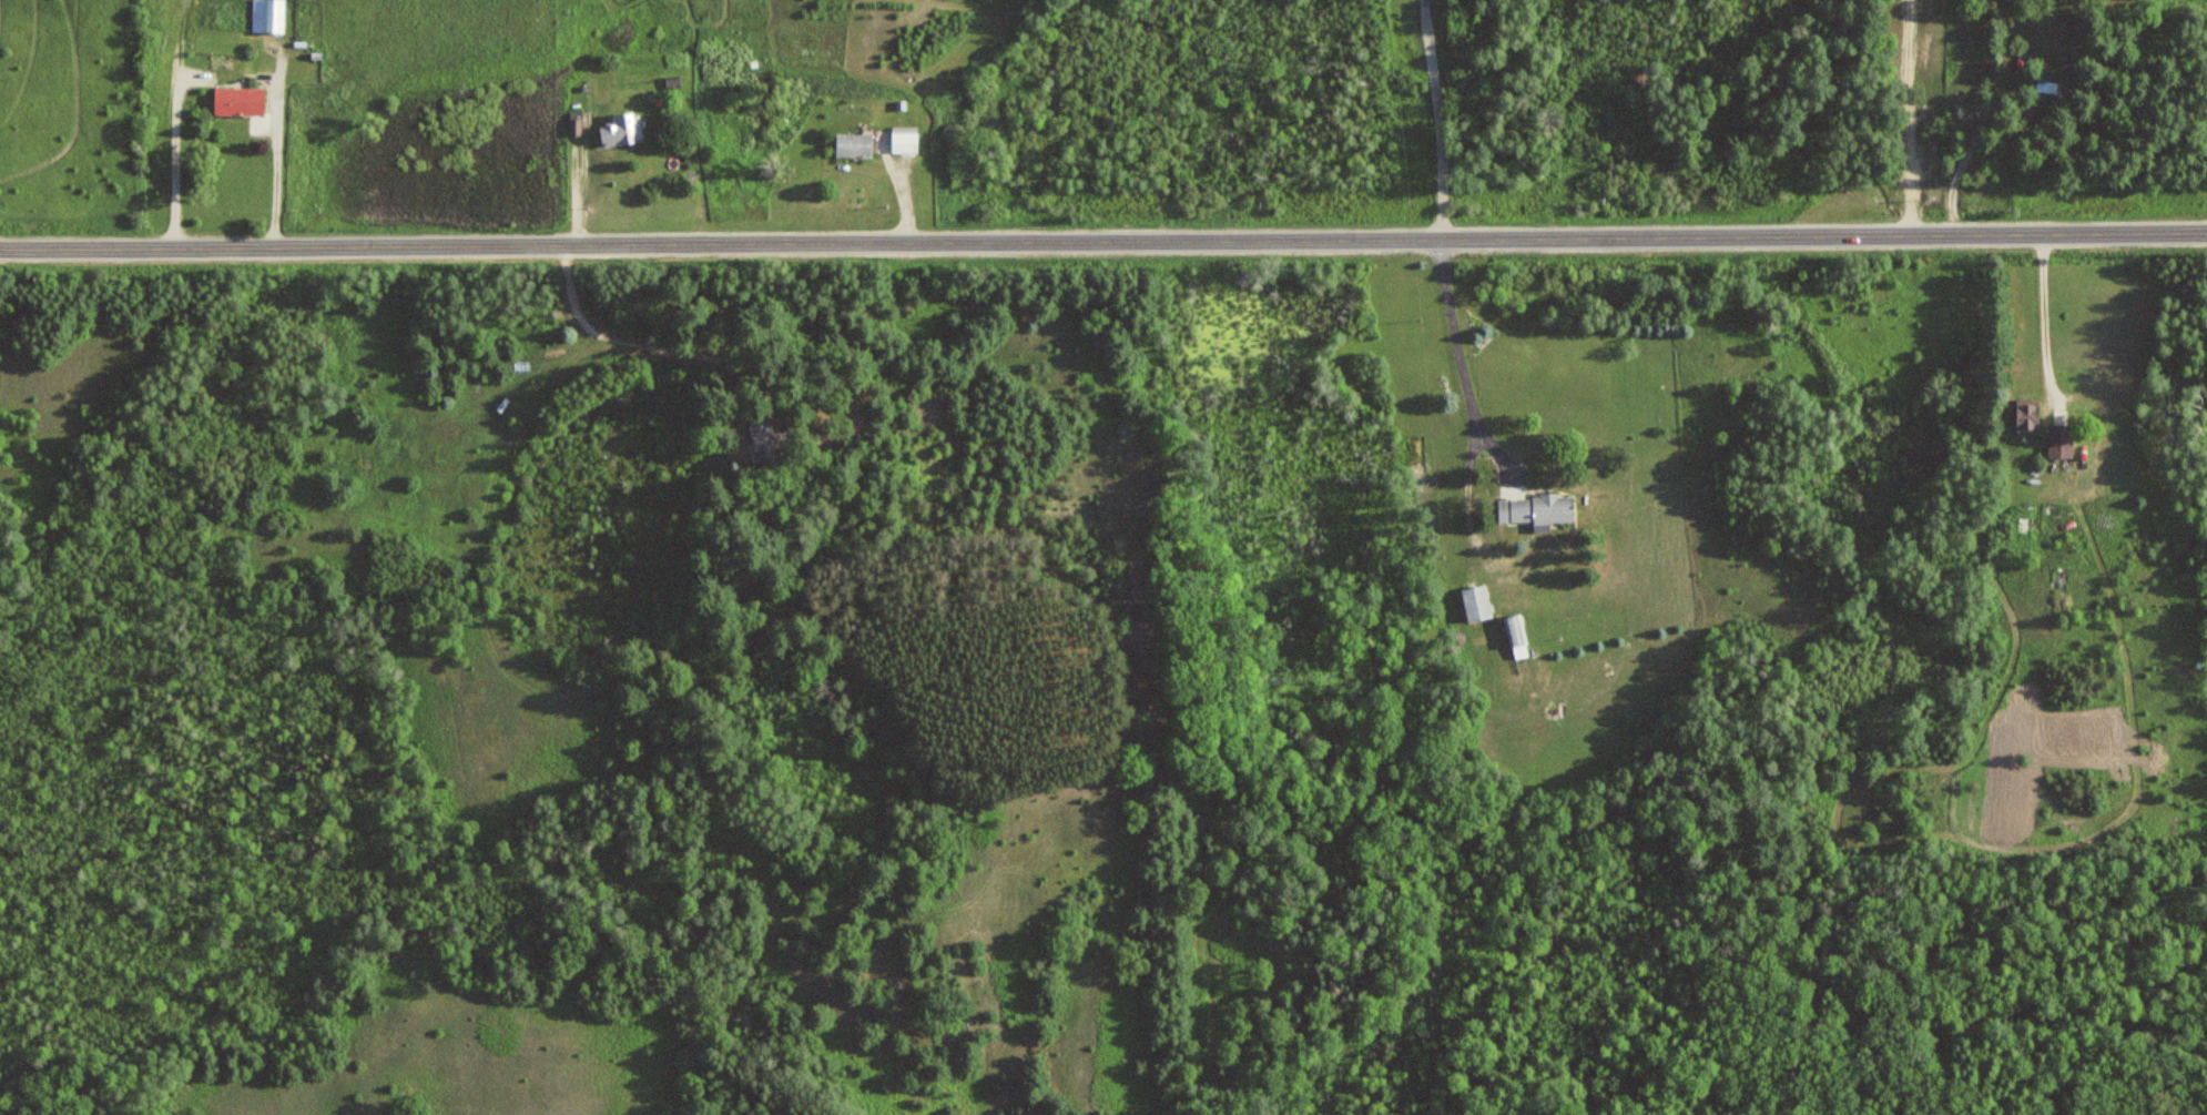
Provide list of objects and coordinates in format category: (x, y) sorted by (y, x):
building: (267, 16)
building: (2047, 90)
building: (238, 101)
road: (1906, 116)
building: (622, 131)
building: (904, 139)
building: (854, 145)
road: (1103, 239)
road: (613, 335)
building: (2027, 414)
building: (764, 438)
building: (2061, 439)
building: (1537, 508)
building: (2031, 523)
building: (1477, 601)
building: (1517, 635)

